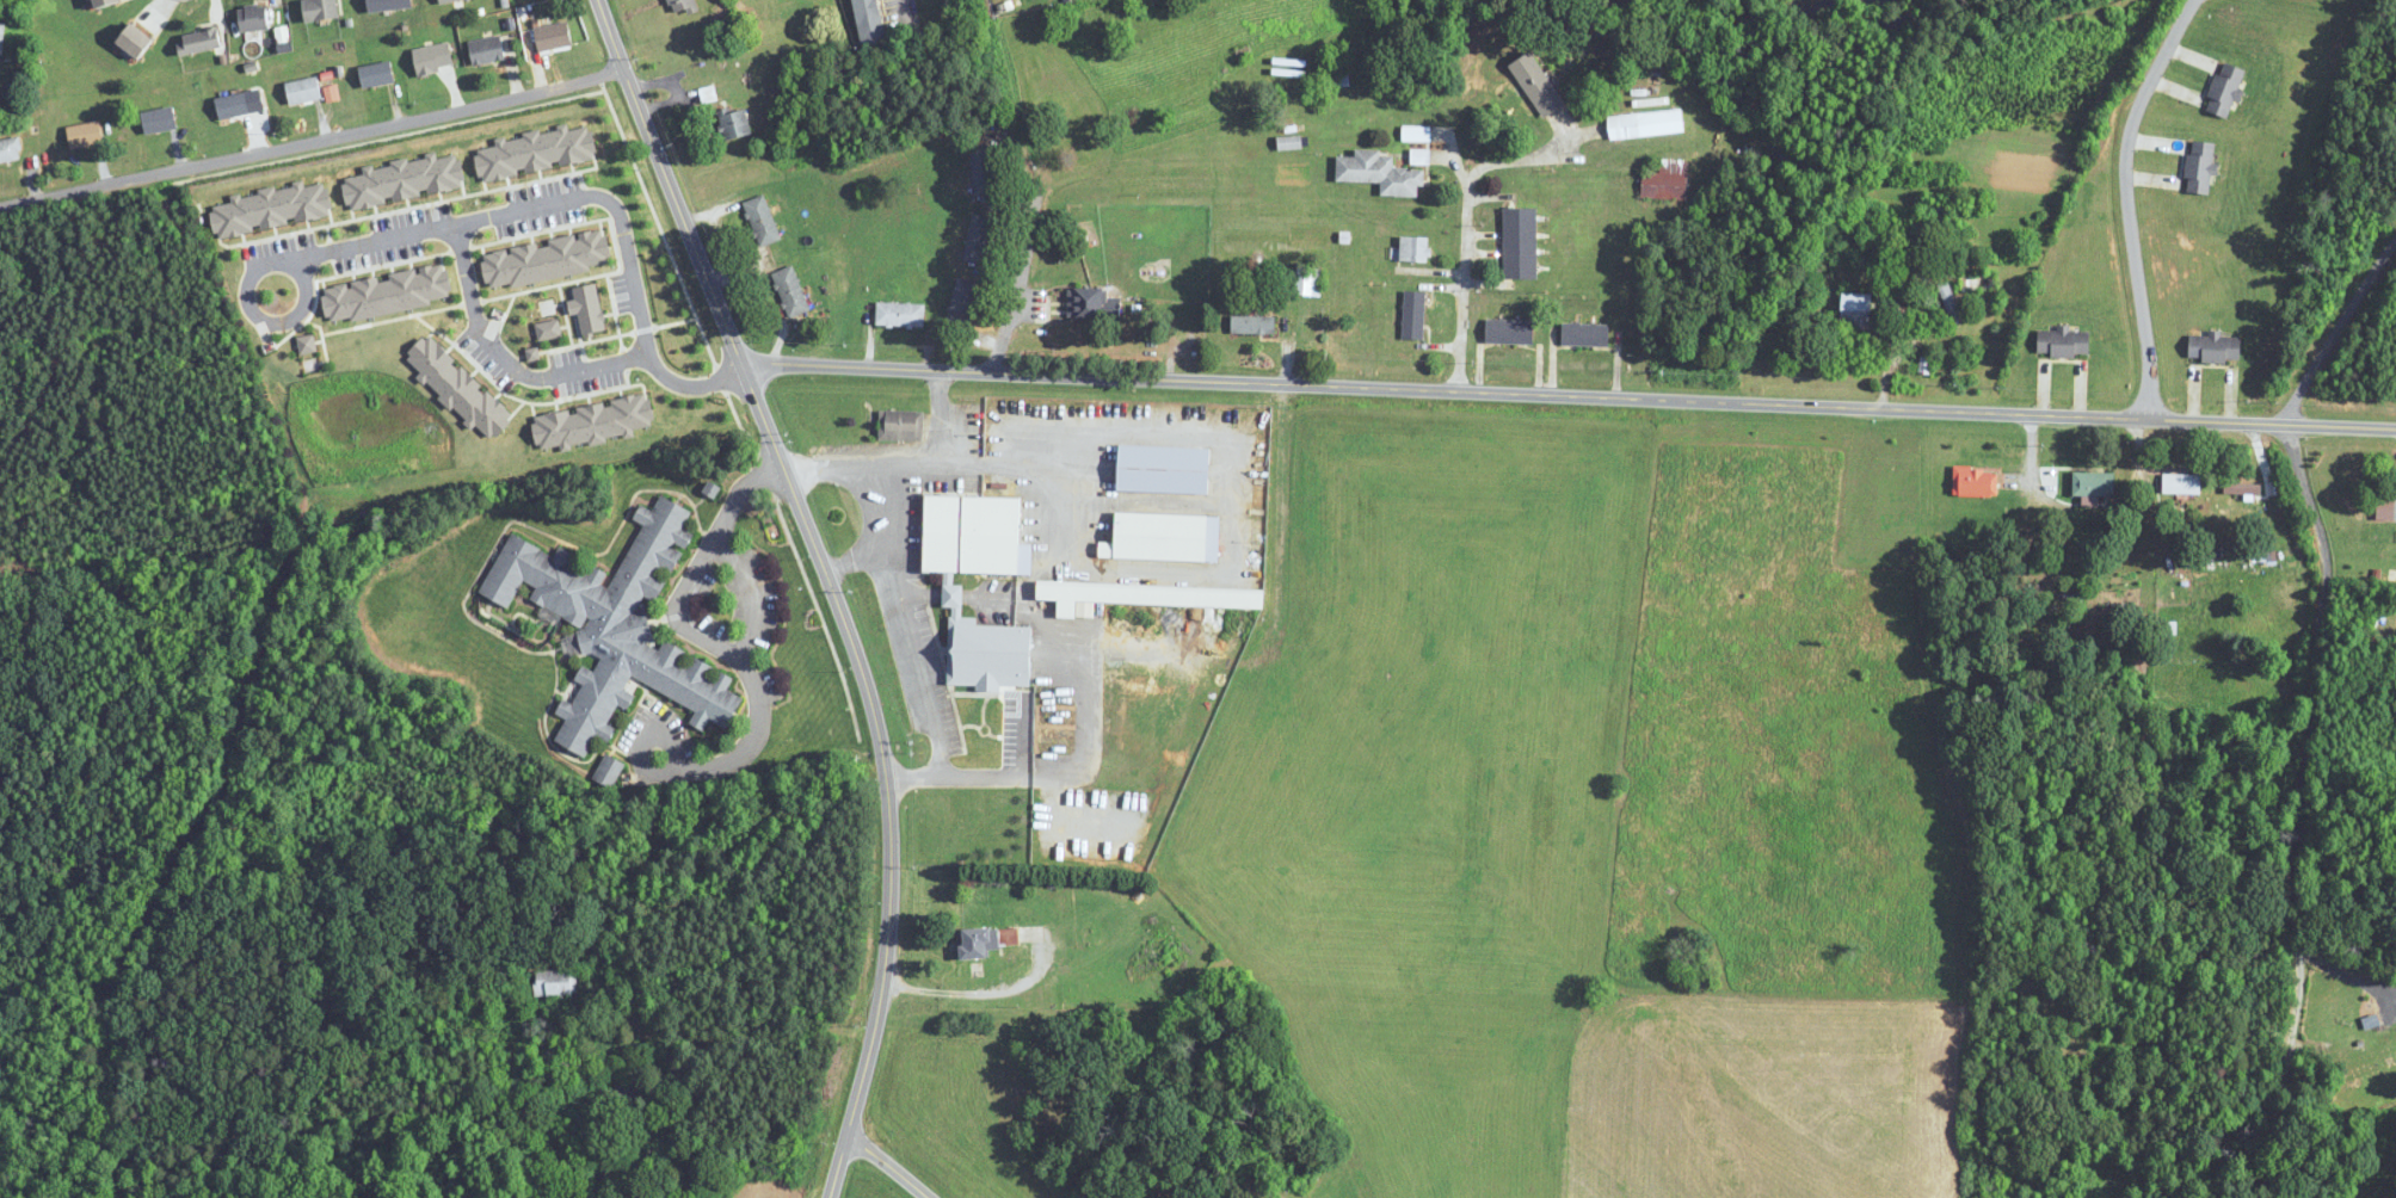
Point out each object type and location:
building: (445, 1)
building: (103, 2)
building: (680, 6)
building: (320, 10)
road: (905, 13)
building: (253, 18)
building: (869, 21)
building: (553, 36)
building: (1, 38)
building: (135, 41)
building: (201, 41)
building: (486, 50)
building: (376, 75)
building: (1536, 85)
building: (2225, 89)
building: (303, 91)
building: (233, 106)
building: (159, 121)
building: (734, 123)
building: (1646, 124)
building: (85, 135)
road: (313, 136)
building: (10, 150)
building: (1419, 156)
building: (2200, 167)
building: (983, 169)
building: (1380, 173)
building: (1664, 184)
road: (1033, 191)
road: (566, 192)
road: (2129, 202)
building: (762, 220)
road: (1467, 237)
building: (979, 239)
building: (1520, 243)
building: (1413, 248)
building: (1307, 282)
building: (790, 291)
road: (1010, 298)
building: (1950, 302)
road: (719, 303)
building: (961, 303)
building: (1091, 304)
building: (1856, 310)
building: (900, 315)
building: (1413, 315)
building: (1252, 325)
road: (2329, 326)
building: (1509, 332)
building: (1585, 334)
building: (2063, 342)
building: (2215, 347)
road: (499, 353)
building: (1921, 365)
road: (1569, 394)
building: (900, 426)
road: (913, 467)
road: (1004, 468)
building: (1164, 470)
building: (1975, 482)
building: (2181, 483)
building: (2094, 484)
building: (2242, 489)
building: (1164, 537)
road: (854, 556)
road: (2298, 569)
road: (2154, 576)
road: (910, 592)
road: (938, 593)
building: (1150, 594)
building: (953, 597)
building: (616, 624)
road: (682, 624)
road: (946, 771)
road: (910, 774)
road: (2311, 808)
road: (889, 902)
building: (984, 941)
building: (1163, 951)
road: (2348, 977)
building: (554, 982)
road: (972, 994)
building: (2373, 1063)
building: (609, 1095)
road: (886, 1167)

